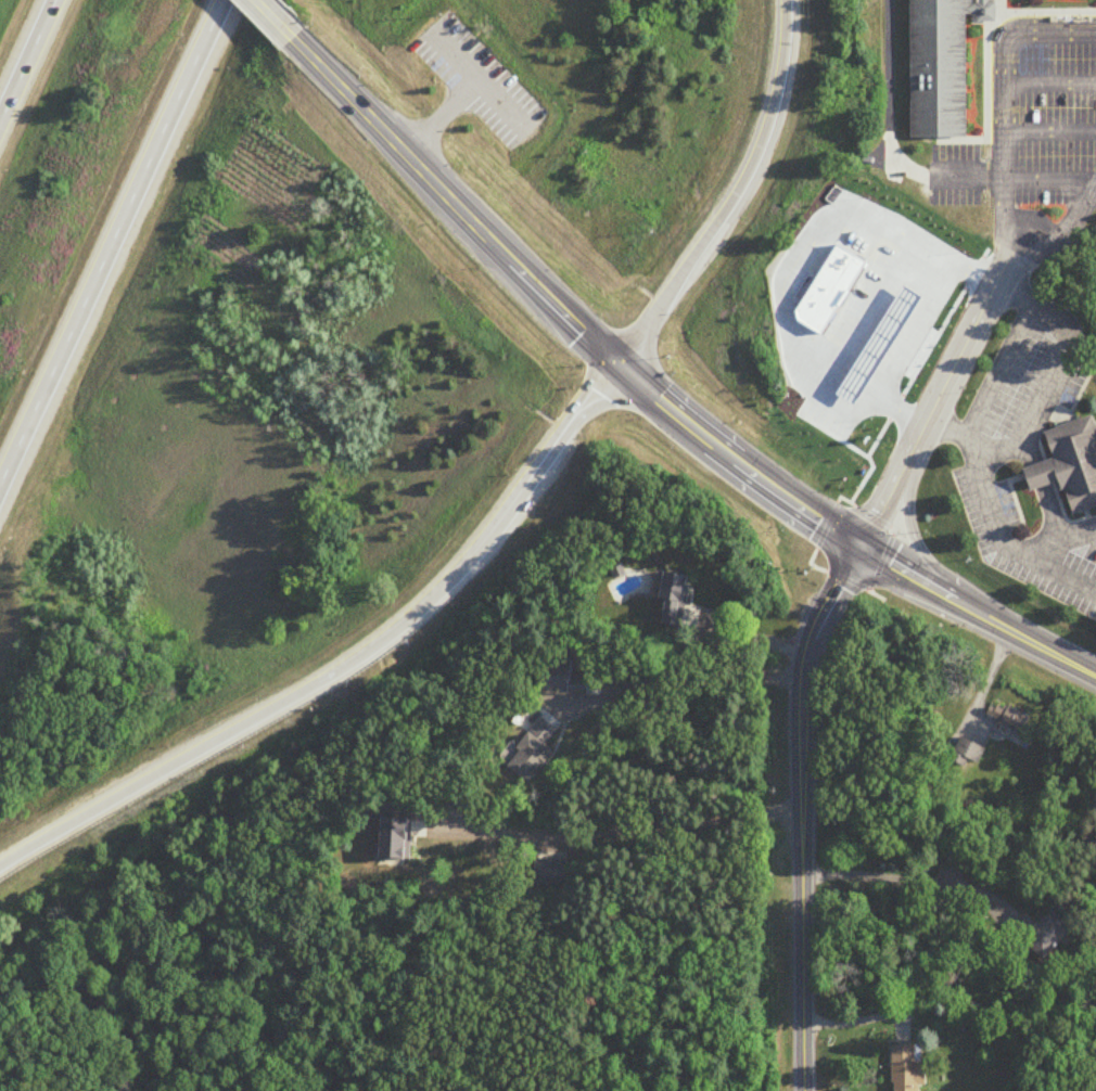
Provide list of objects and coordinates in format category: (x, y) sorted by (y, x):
road: (266, 12)
road: (996, 53)
road: (455, 56)
road: (29, 64)
building: (934, 65)
parking lot: (474, 73)
road: (1046, 79)
road: (494, 98)
road: (437, 123)
road: (1046, 128)
road: (882, 137)
park: (904, 154)
road: (1046, 178)
road: (1095, 178)
road: (998, 192)
road: (735, 195)
road: (1007, 232)
road: (113, 242)
road: (785, 280)
road: (970, 350)
road: (1062, 361)
traffic signals: (617, 363)
road: (996, 367)
road: (652, 394)
road: (999, 441)
building: (1070, 459)
road: (1035, 475)
road: (994, 524)
road: (1054, 531)
road: (1088, 531)
road: (1047, 549)
road: (749, 639)
road: (351, 664)
road: (683, 679)
building: (581, 688)
building: (1009, 719)
building: (536, 750)
building: (969, 754)
road: (802, 809)
road: (621, 838)
road: (900, 880)
building: (1045, 935)
road: (862, 1019)
building: (907, 1068)

